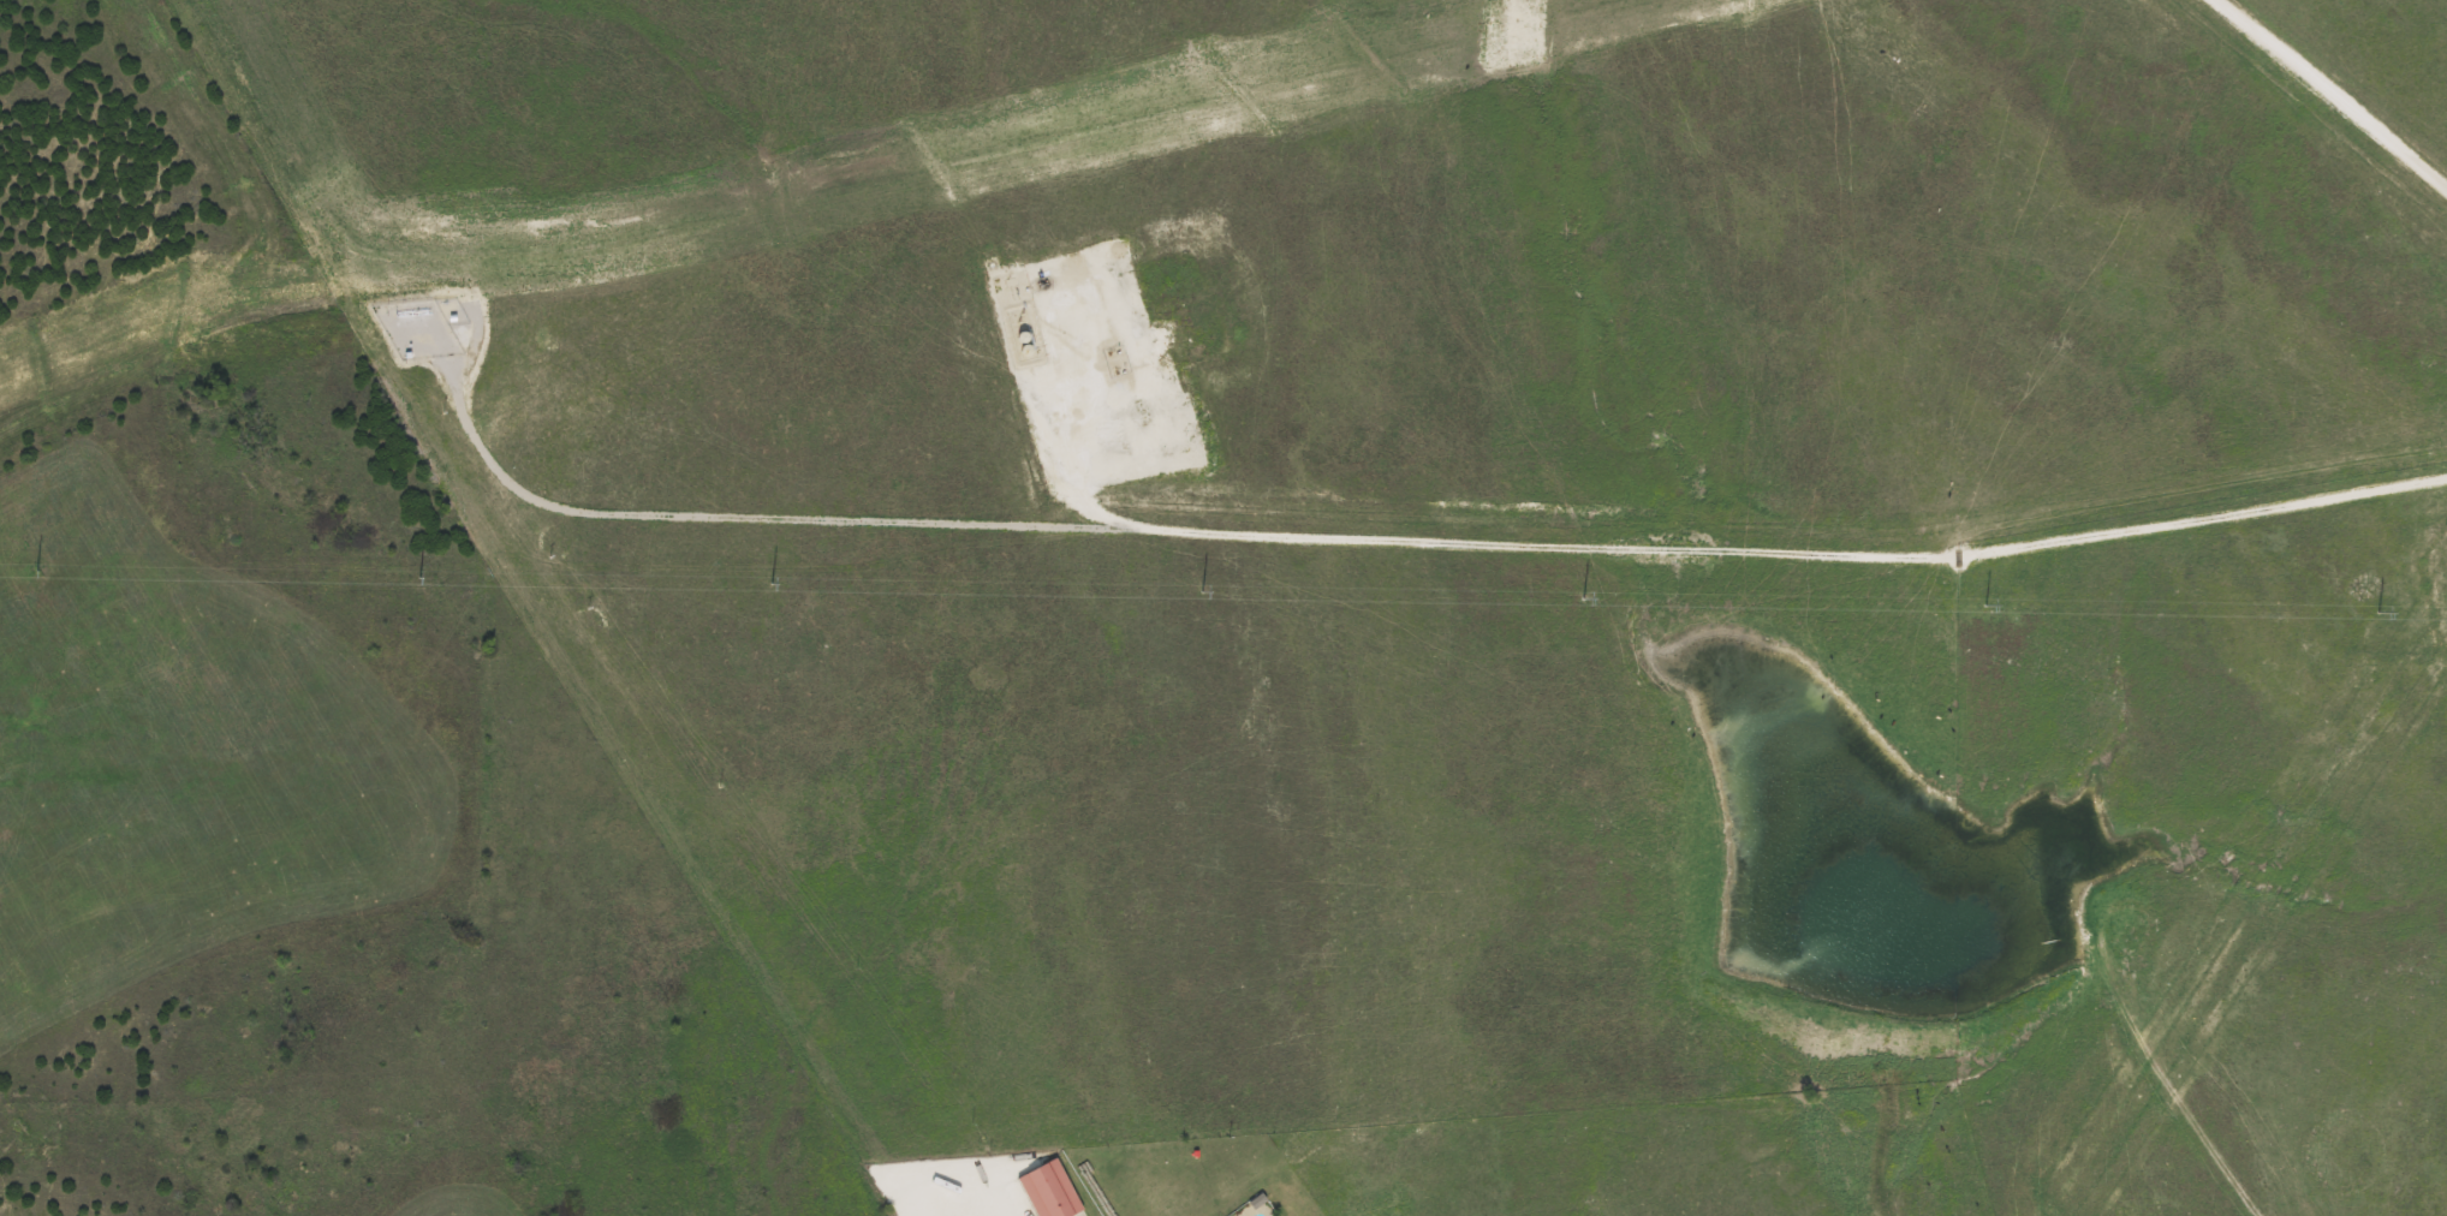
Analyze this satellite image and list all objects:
road: (2336, 90)
road: (1764, 543)
building: (1052, 1191)

